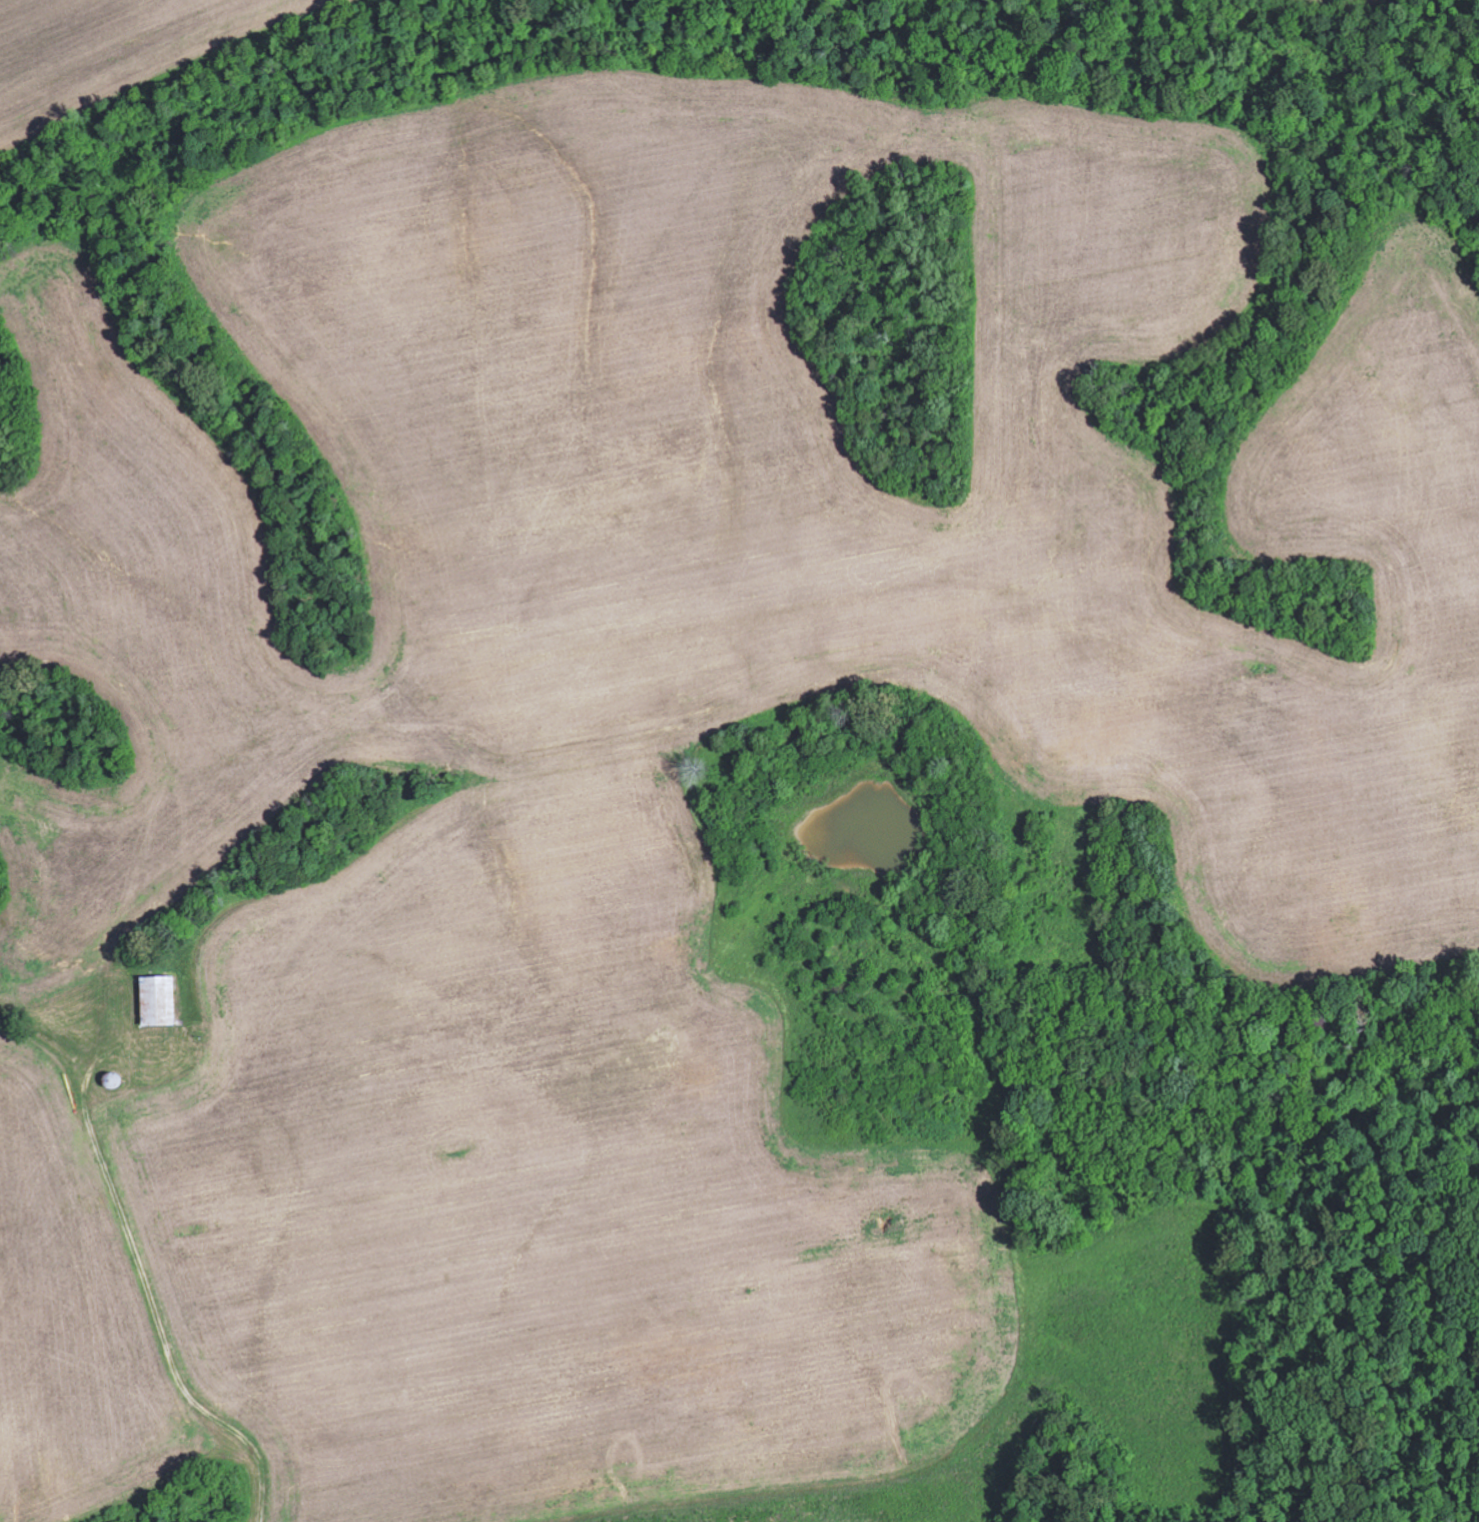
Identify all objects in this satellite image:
road: (52, 1054)
road: (150, 1301)

